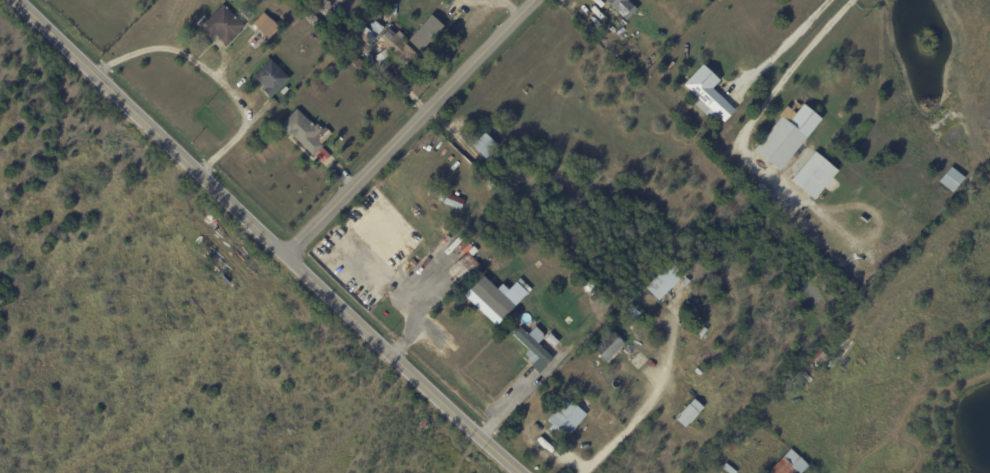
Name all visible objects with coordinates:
building: (622, 7)
building: (331, 8)
building: (219, 25)
building: (601, 25)
building: (267, 27)
building: (426, 33)
building: (365, 35)
road: (786, 41)
building: (389, 52)
building: (368, 61)
building: (358, 65)
road: (205, 73)
building: (271, 78)
building: (704, 90)
road: (763, 105)
road: (410, 127)
building: (306, 134)
building: (787, 135)
building: (484, 145)
building: (495, 157)
building: (814, 176)
building: (953, 179)
building: (761, 190)
building: (452, 201)
building: (208, 219)
road: (267, 237)
building: (472, 251)
building: (463, 267)
building: (664, 281)
building: (589, 288)
building: (492, 293)
building: (609, 345)
building: (532, 347)
building: (816, 358)
building: (699, 371)
road: (510, 404)
building: (689, 413)
building: (565, 417)
building: (424, 425)
road: (630, 425)
building: (729, 446)
building: (789, 464)
building: (727, 469)

